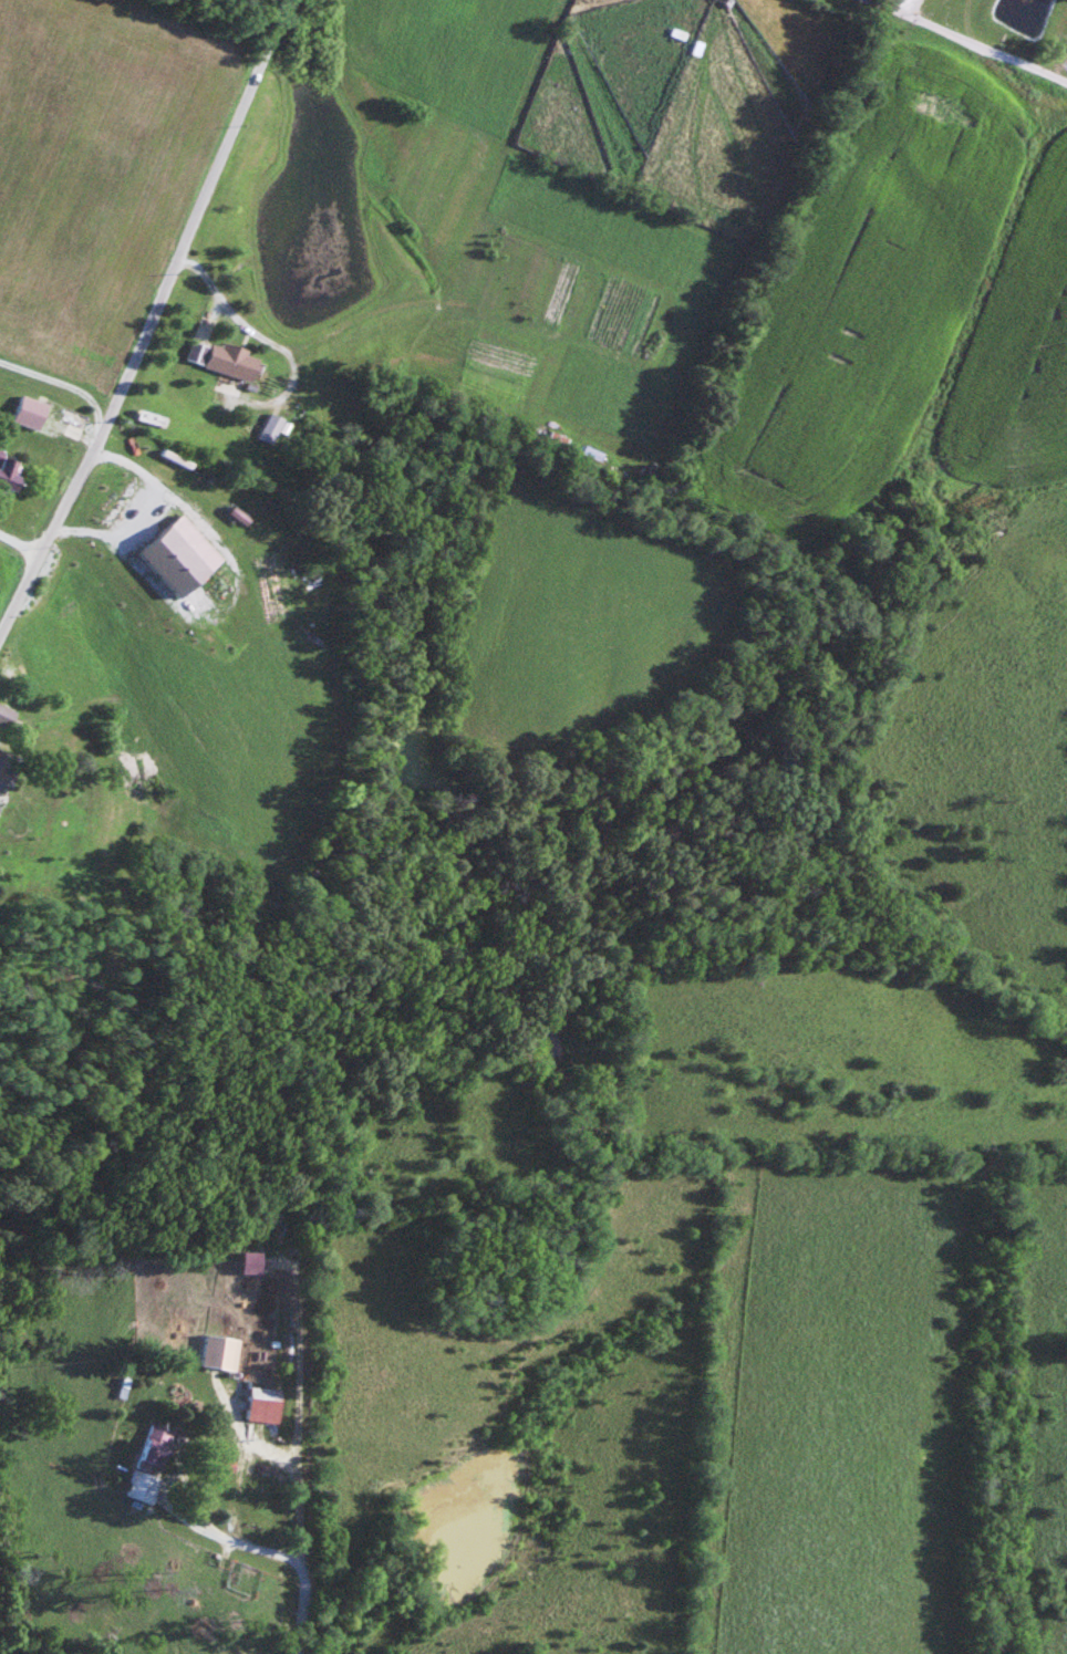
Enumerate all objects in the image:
road: (880, 1)
road: (149, 321)
building: (222, 358)
building: (31, 410)
building: (11, 468)
road: (19, 548)
building: (2, 781)
building: (73, 788)
building: (222, 1351)
building: (267, 1404)
building: (154, 1463)
road: (307, 1544)

